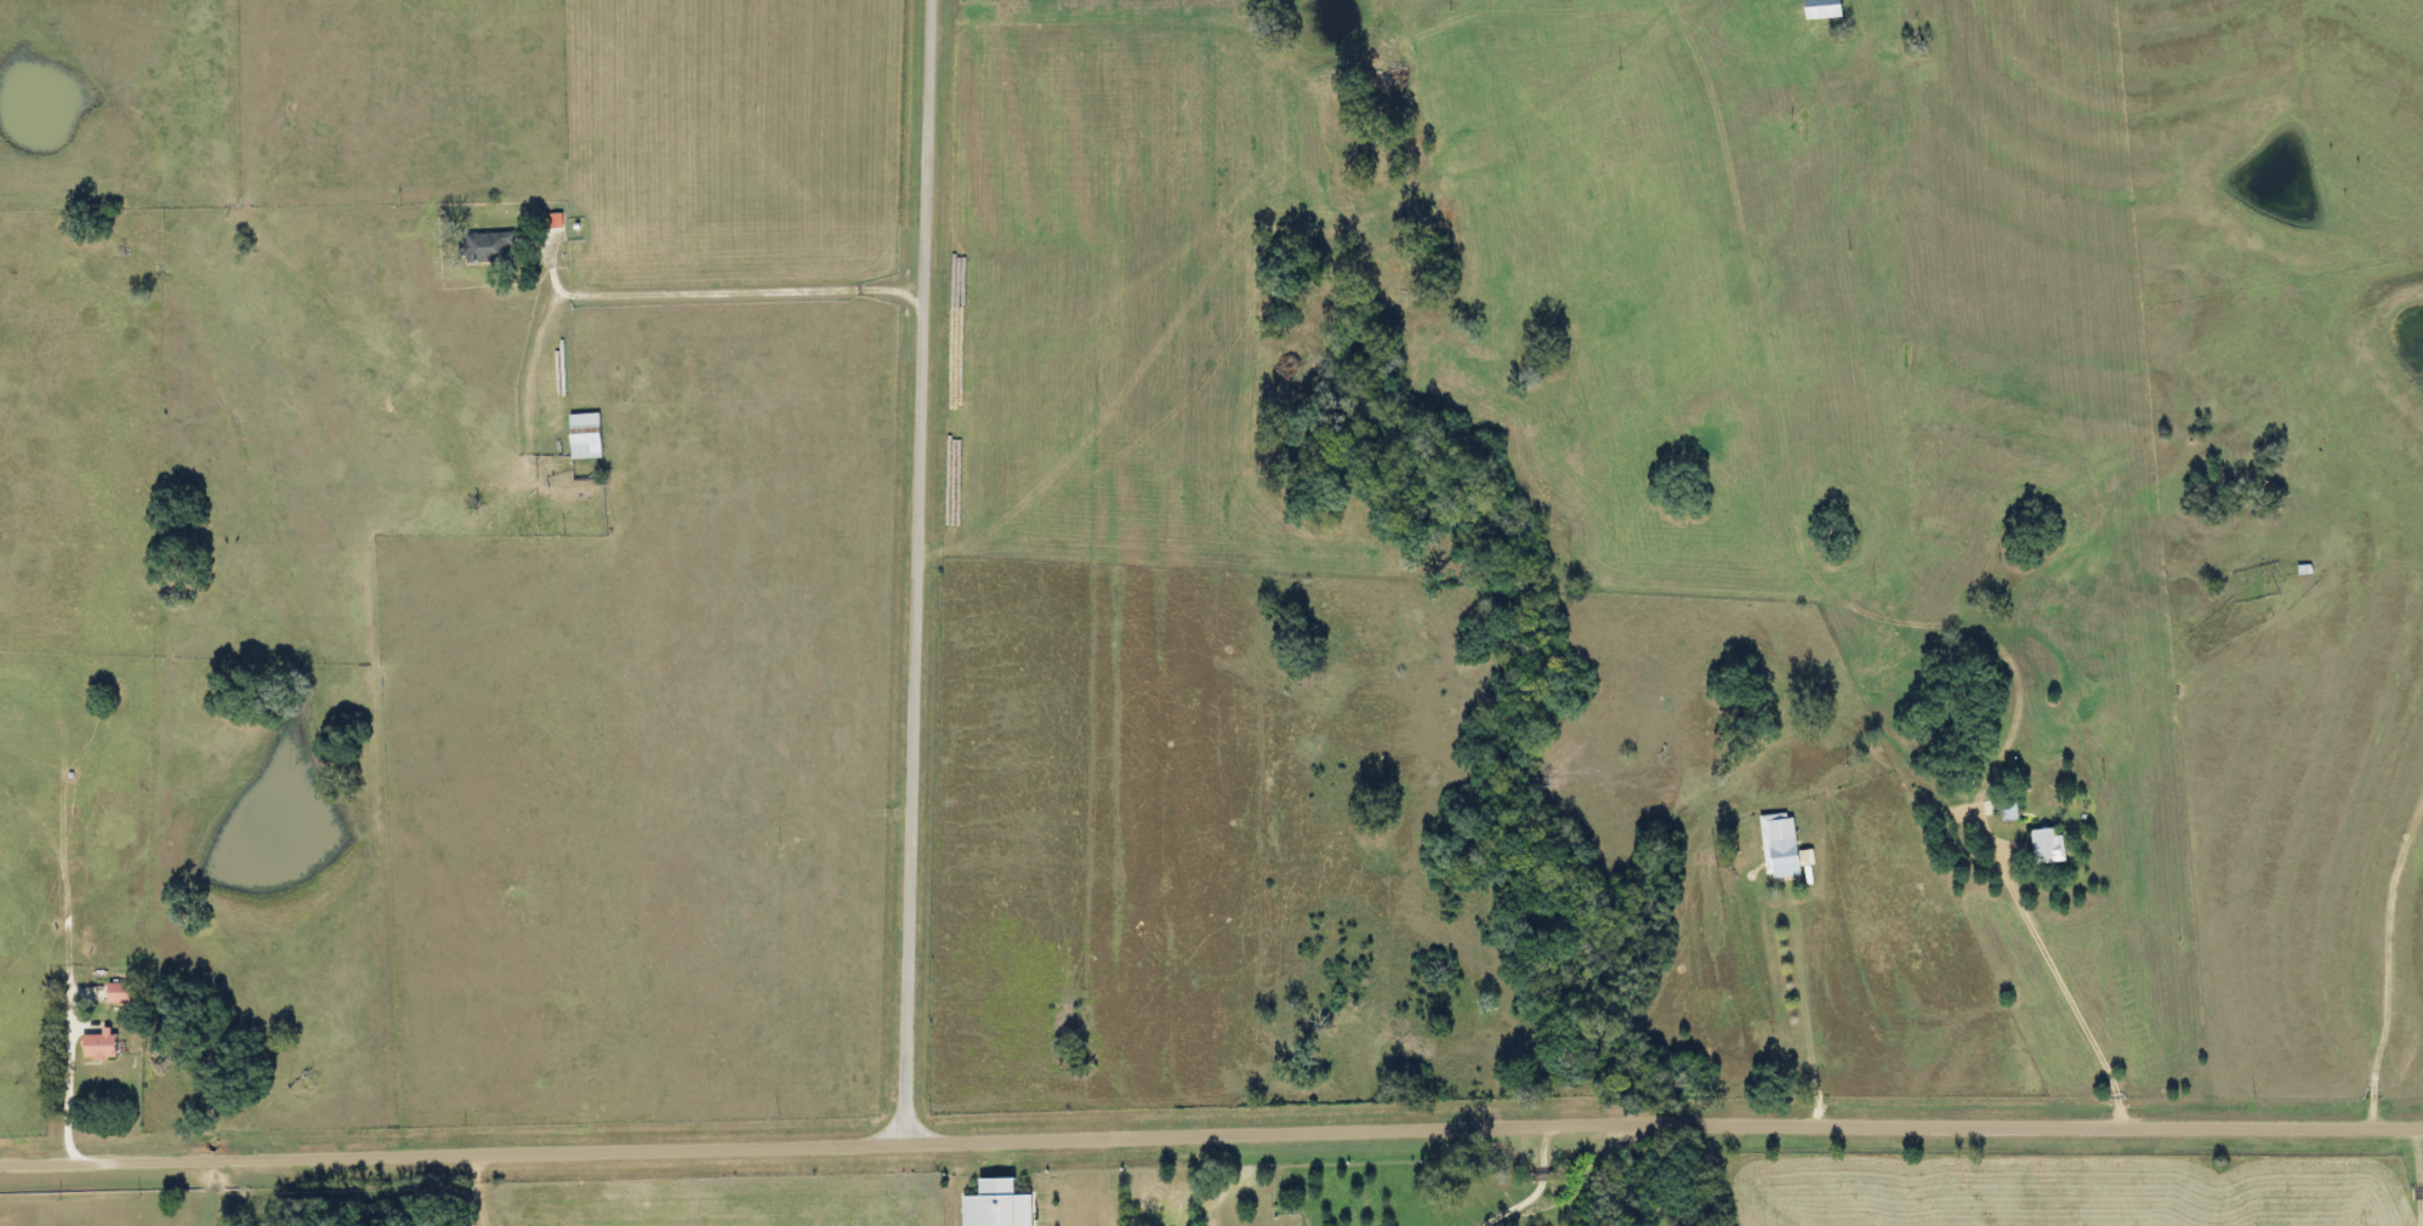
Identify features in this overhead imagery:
building: (1811, 8)
building: (494, 247)
road: (652, 293)
building: (588, 435)
road: (918, 566)
building: (1996, 808)
building: (2040, 845)
building: (1778, 856)
road: (2060, 964)
building: (129, 992)
road: (69, 1037)
building: (107, 1044)
road: (1211, 1129)
road: (1737, 1186)
building: (1006, 1204)

